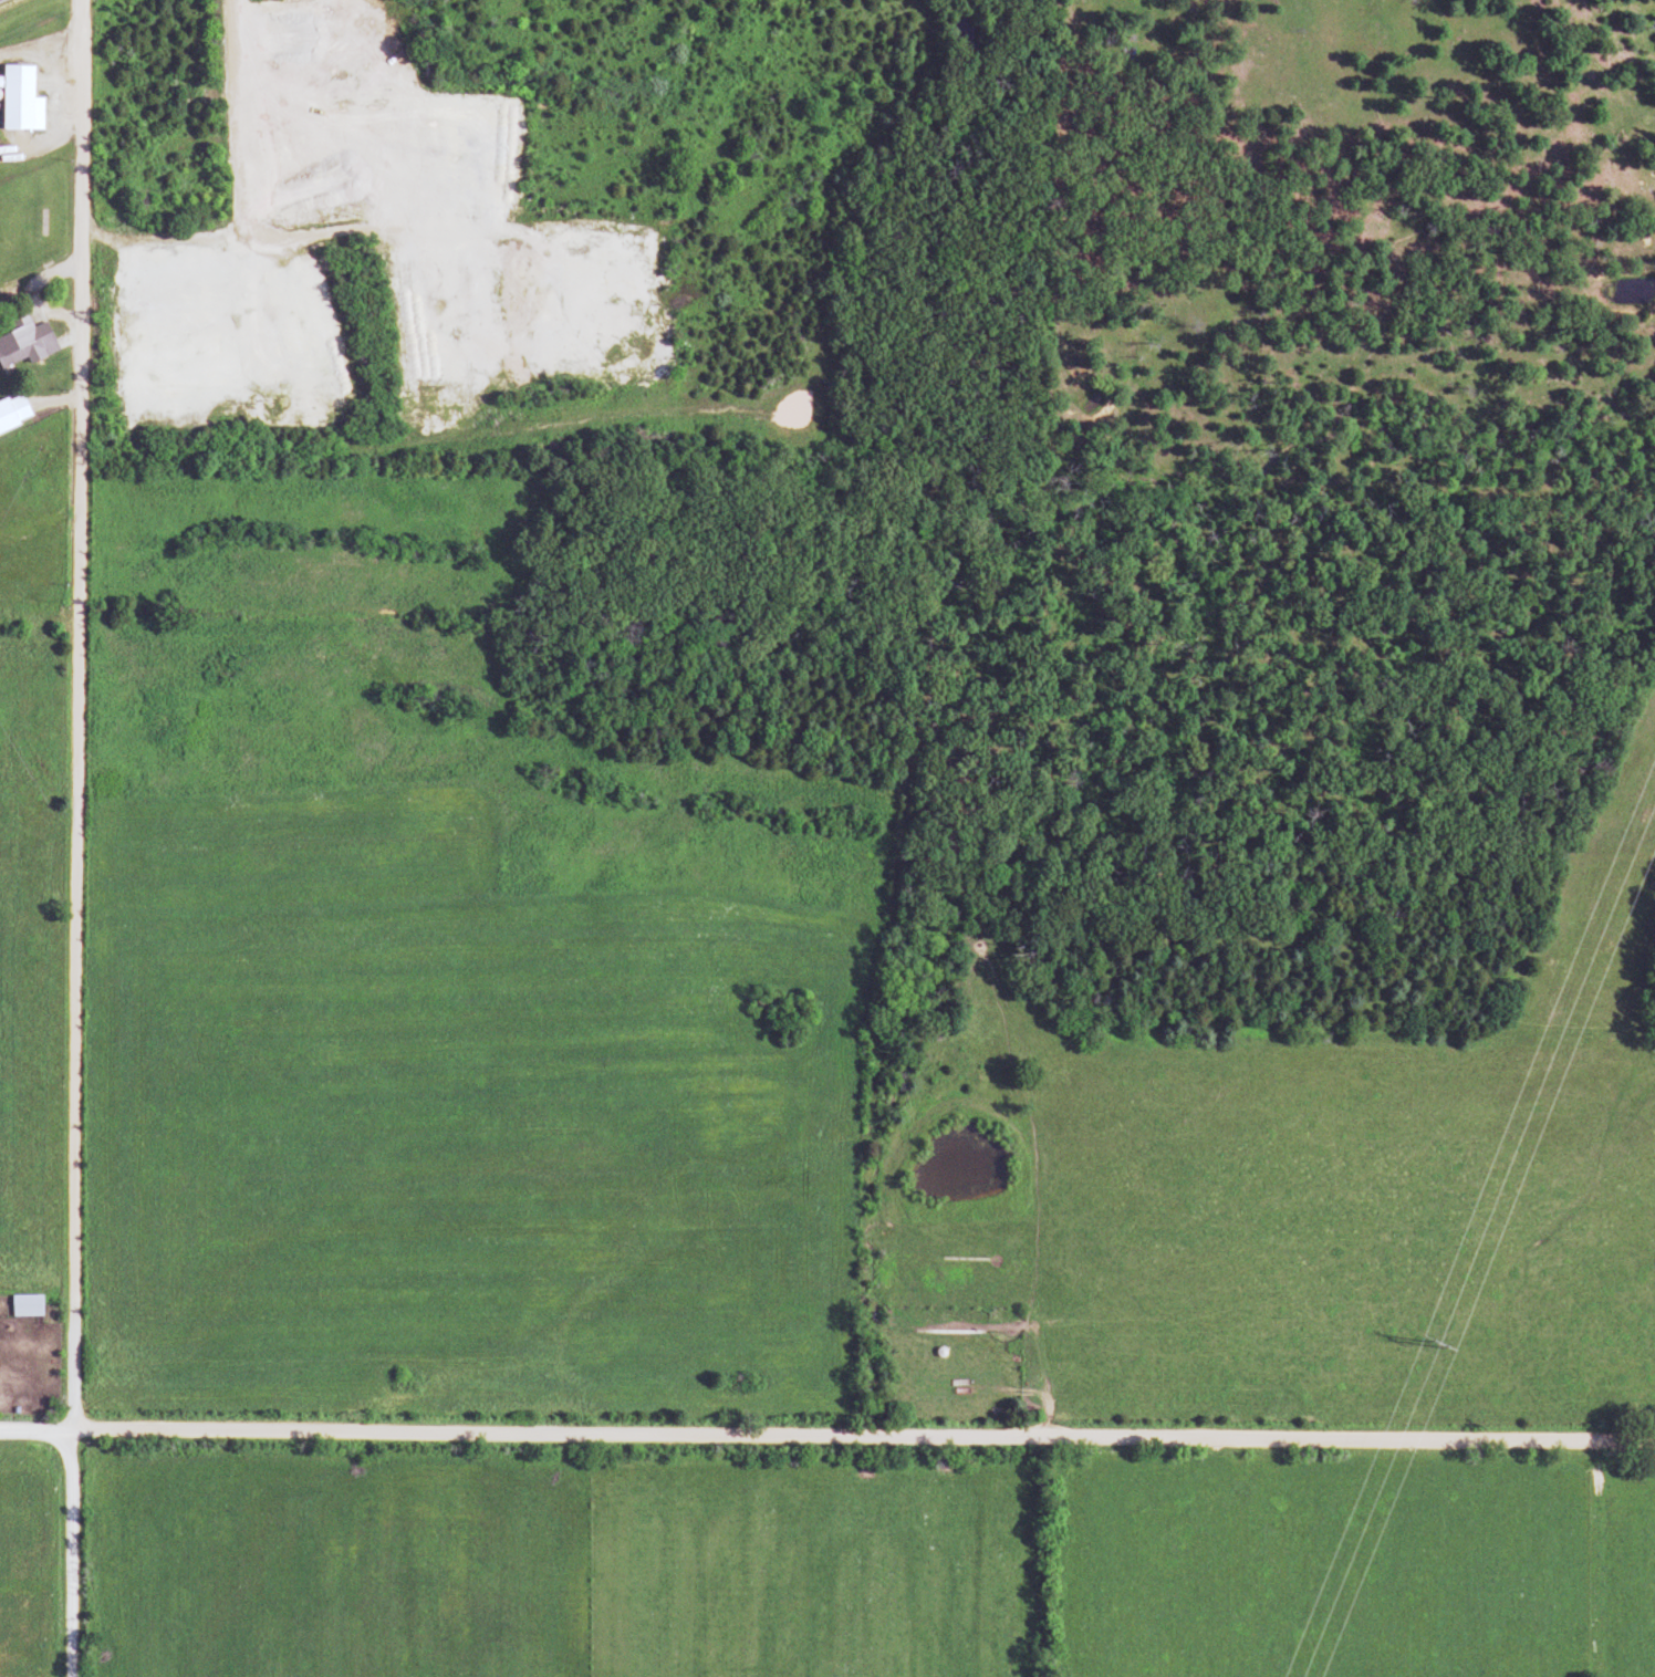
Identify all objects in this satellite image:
building: (18, 100)
building: (27, 344)
building: (12, 413)
road: (72, 713)
building: (23, 1305)
power tower: (1430, 1341)
road: (37, 1428)
road: (864, 1436)
road: (73, 1553)

